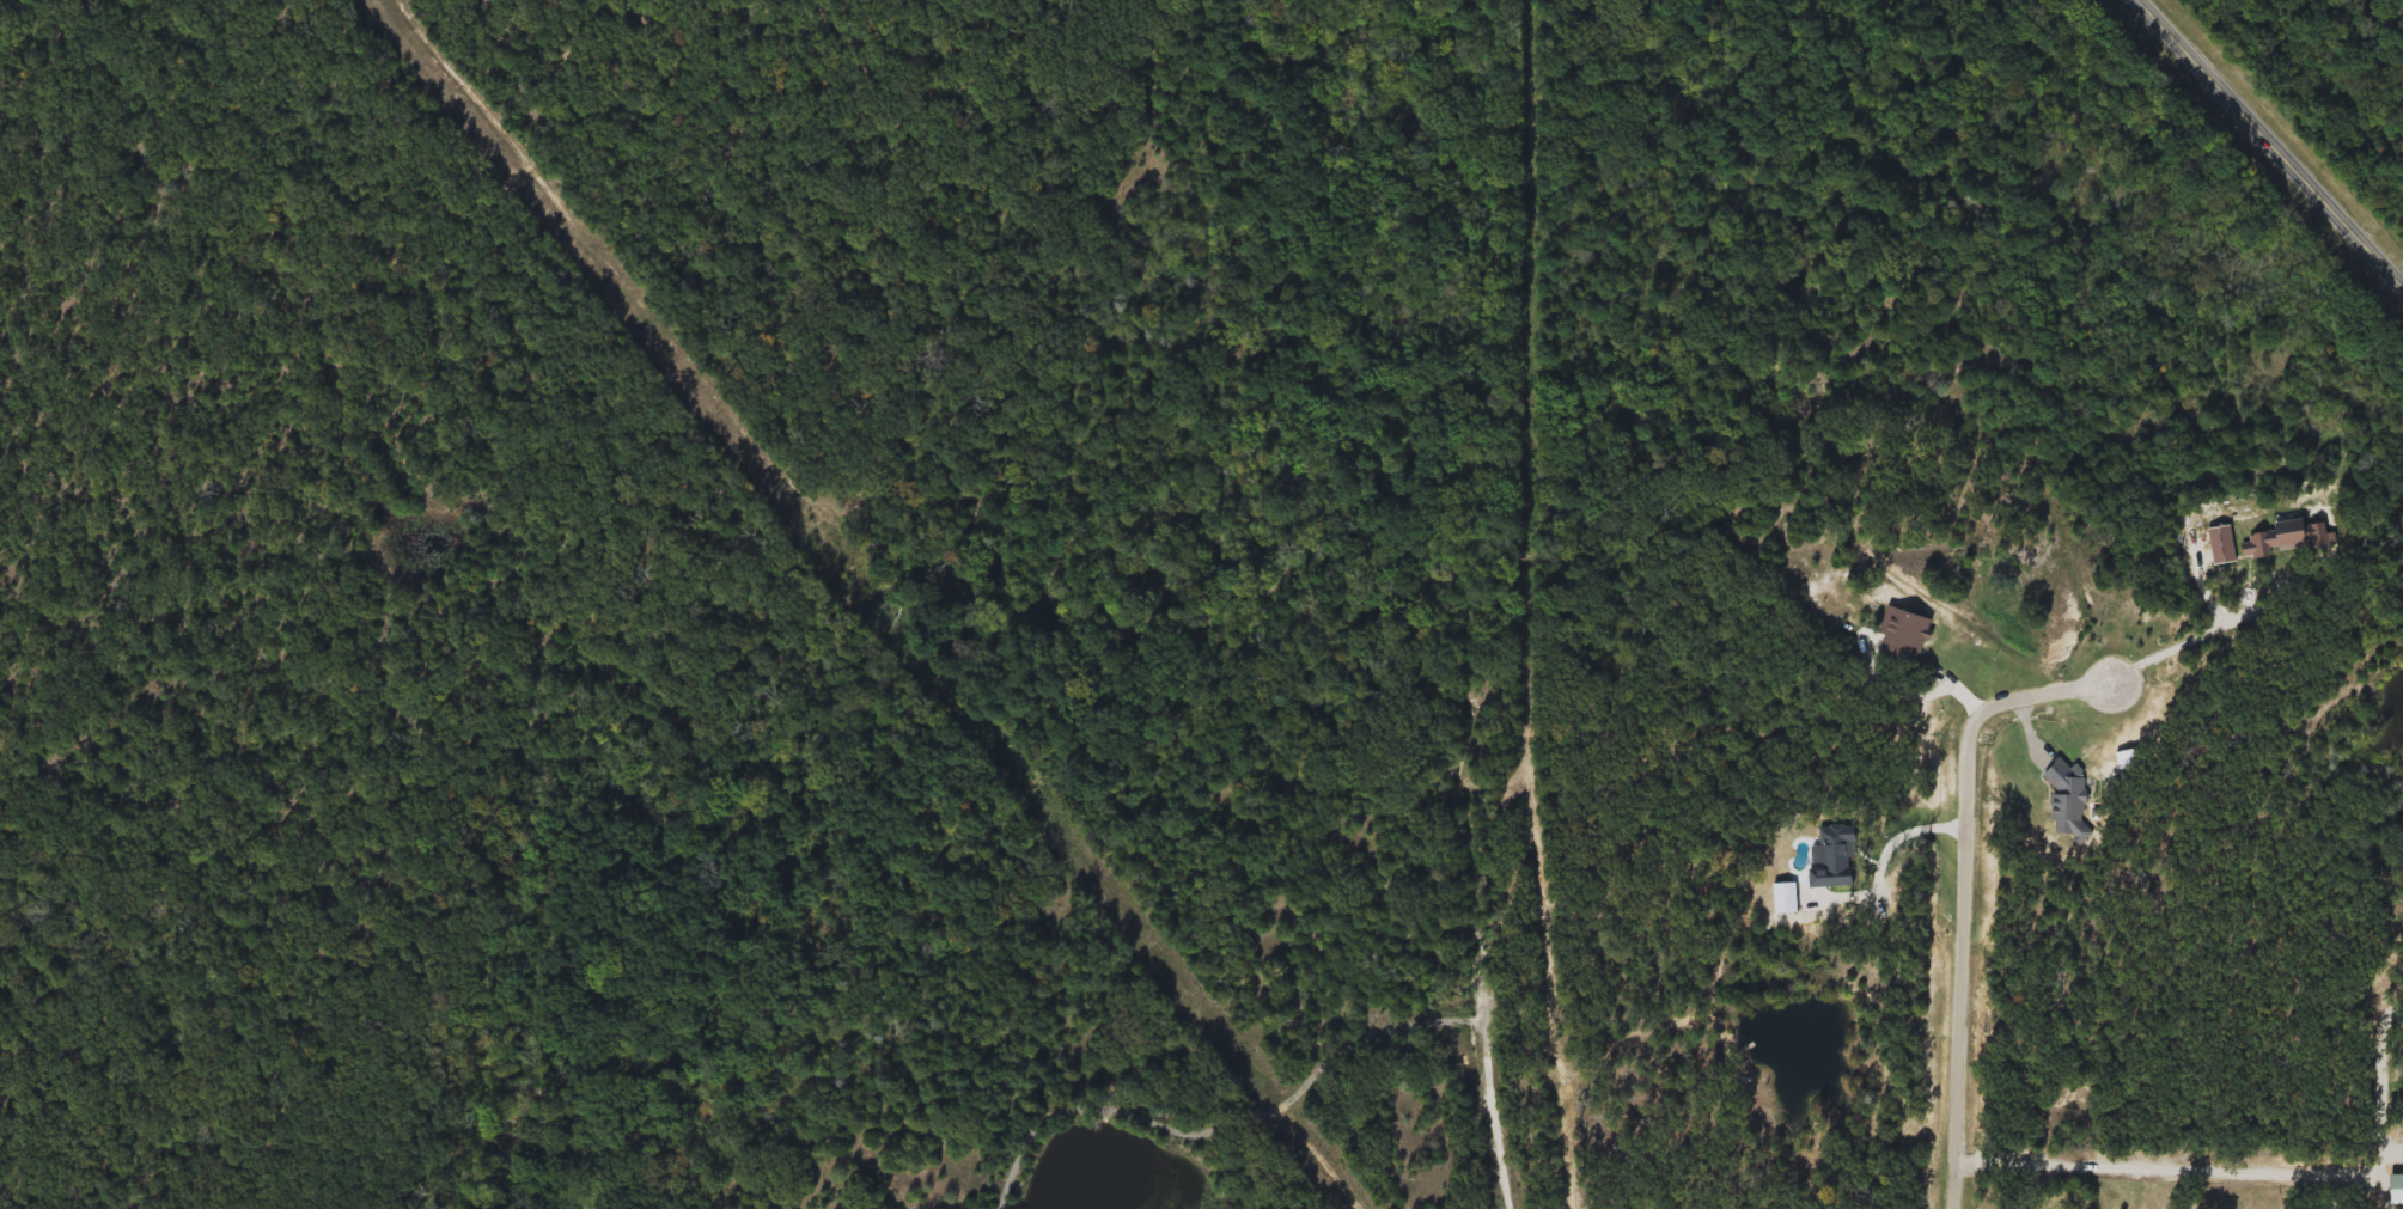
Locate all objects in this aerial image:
road: (2270, 141)
road: (1462, 330)
building: (1899, 639)
road: (2183, 645)
building: (2128, 758)
building: (2067, 802)
building: (1832, 856)
road: (1887, 859)
road: (1970, 893)
building: (1785, 897)
road: (1474, 936)
road: (2166, 1167)

